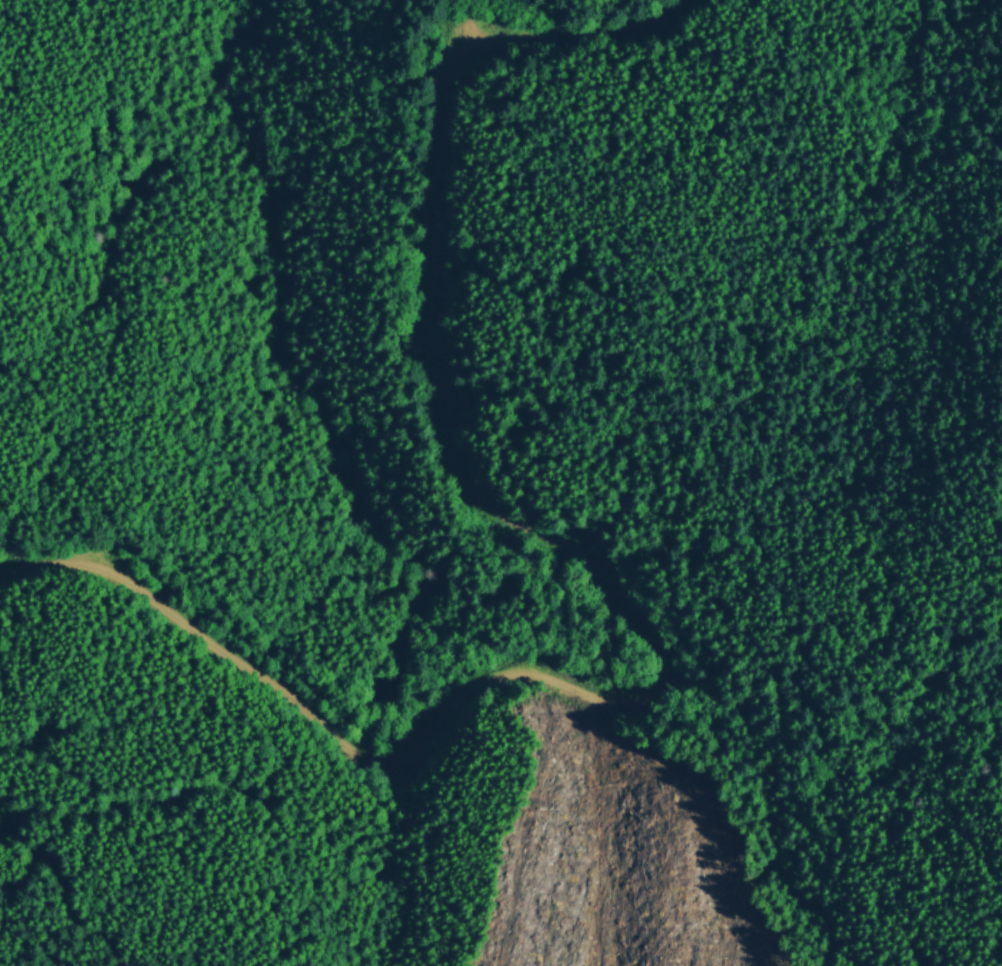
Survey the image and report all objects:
road: (643, 600)

